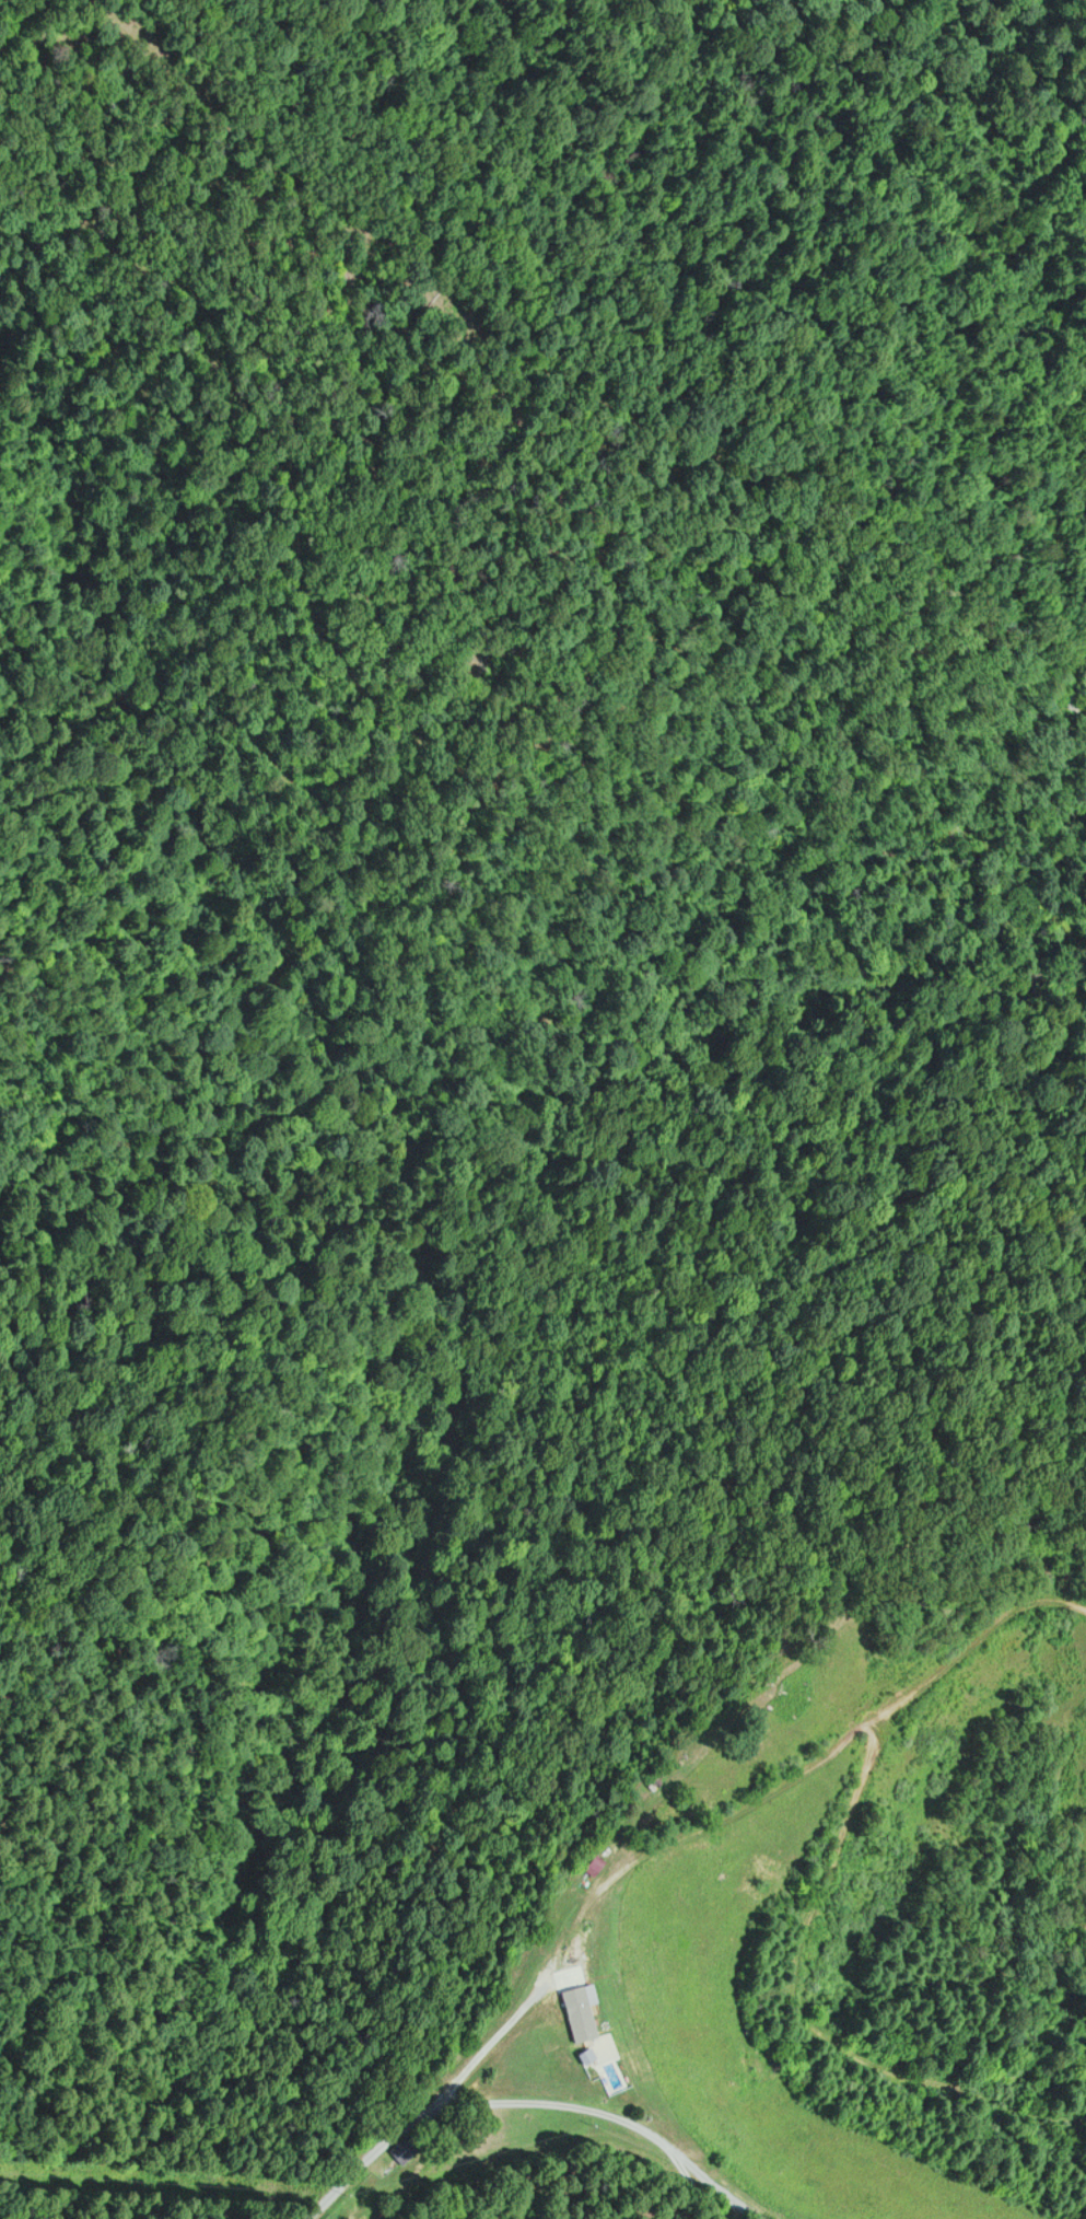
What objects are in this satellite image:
road: (579, 325)
building: (592, 1867)
building: (582, 1960)
building: (550, 1994)
road: (568, 2009)
road: (553, 2113)

